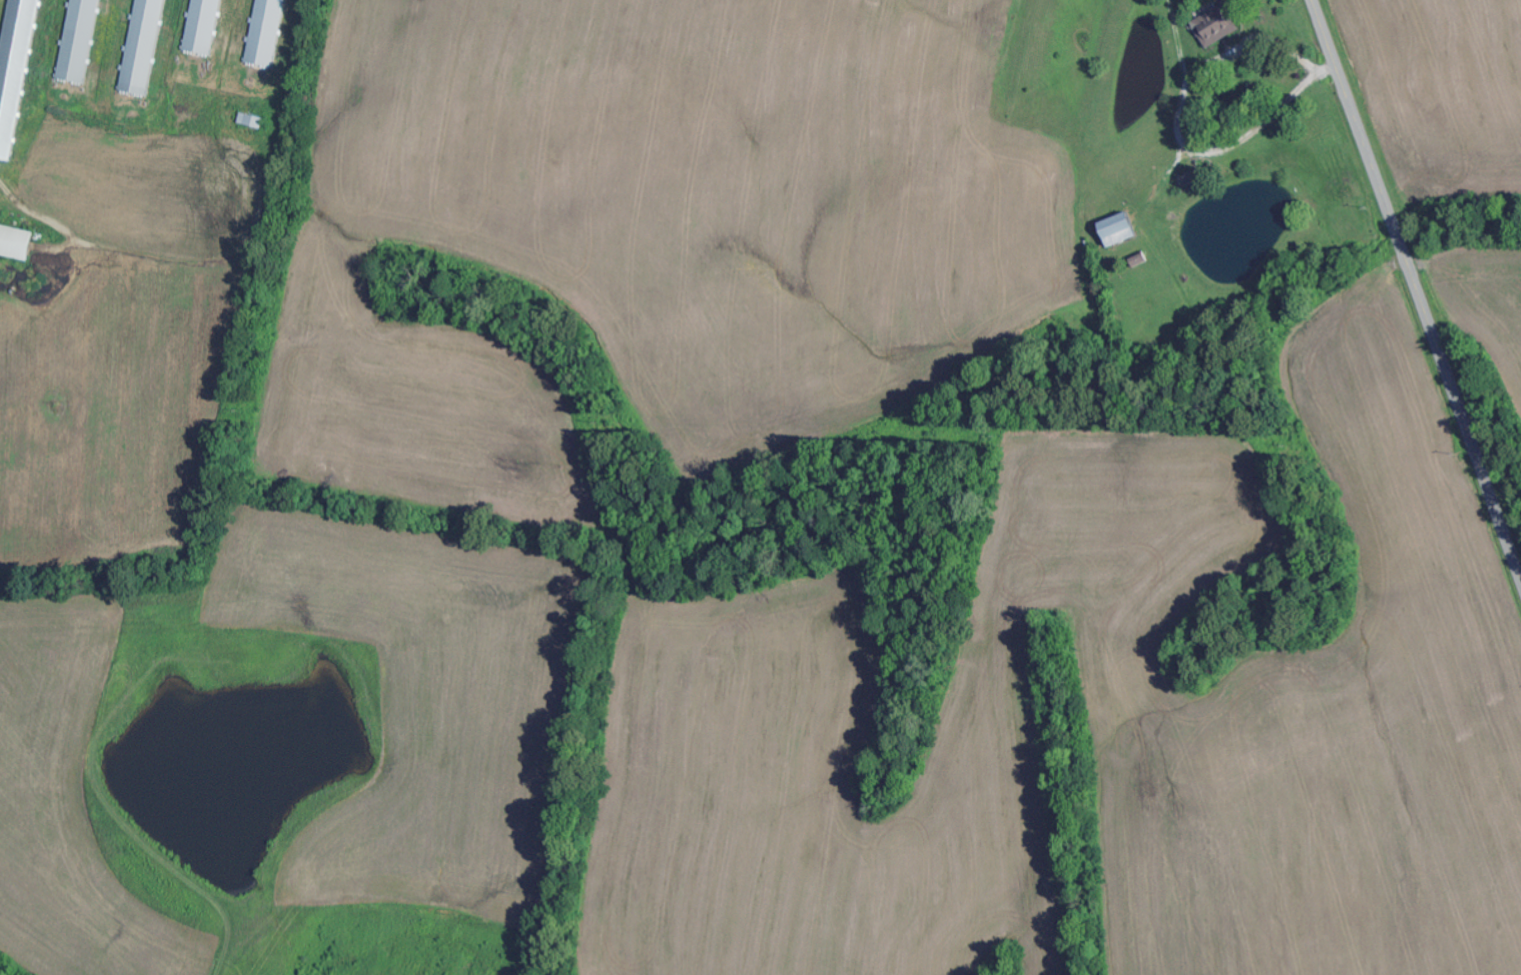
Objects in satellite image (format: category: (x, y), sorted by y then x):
building: (207, 26)
building: (1218, 26)
building: (271, 33)
building: (83, 41)
building: (147, 47)
building: (17, 73)
building: (1121, 230)
road: (1416, 288)

